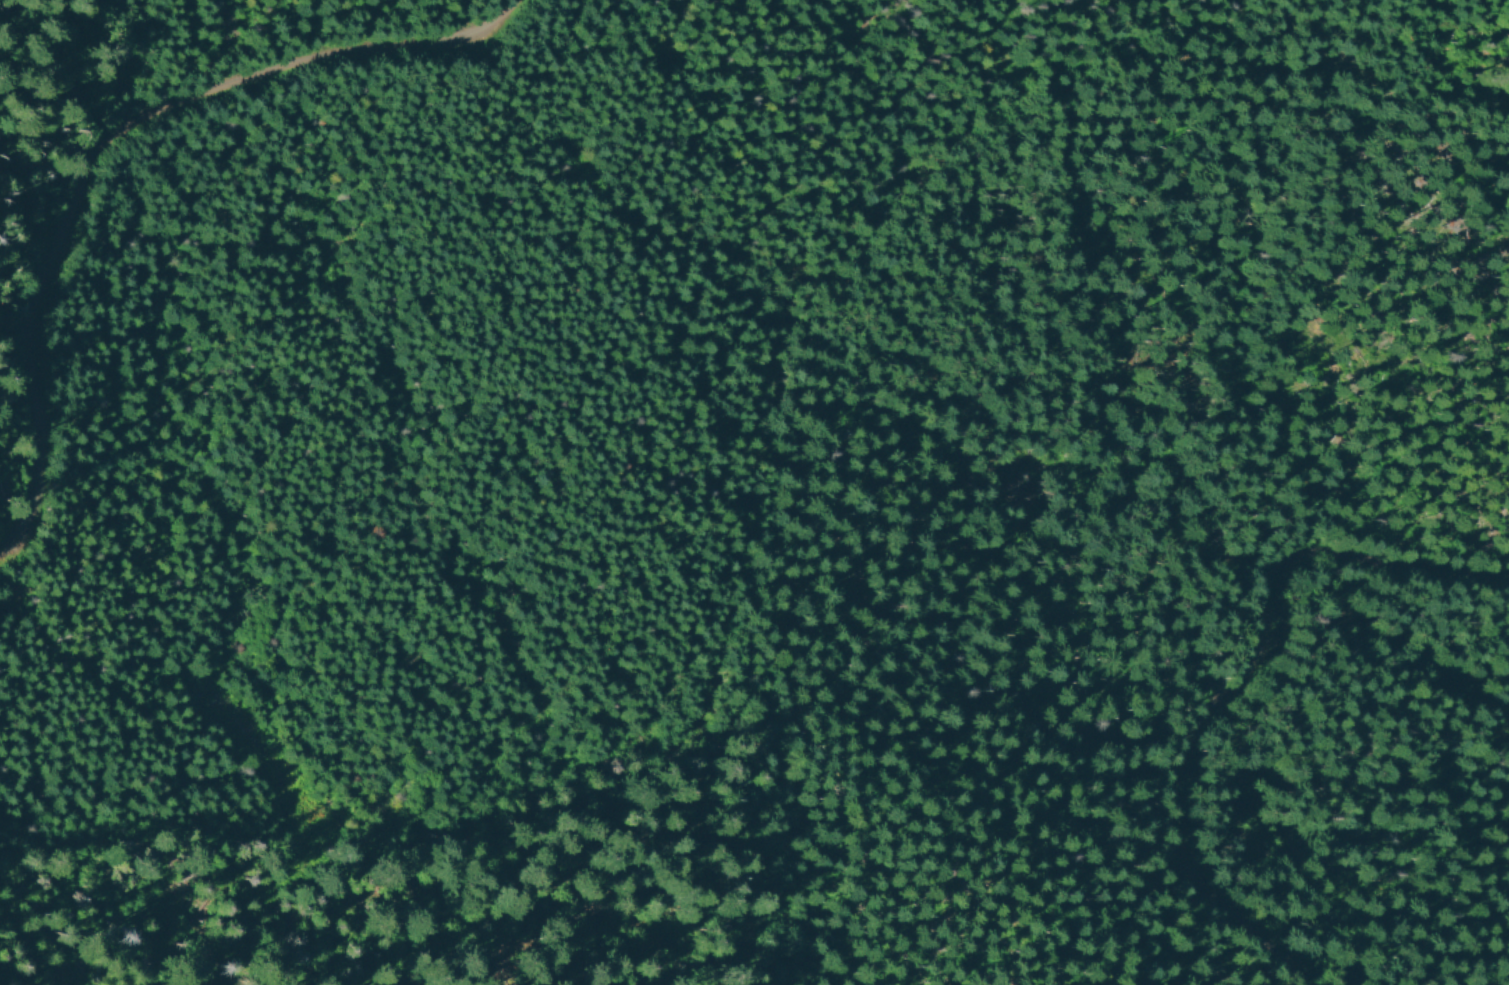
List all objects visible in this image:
road: (111, 147)
road: (1262, 686)

